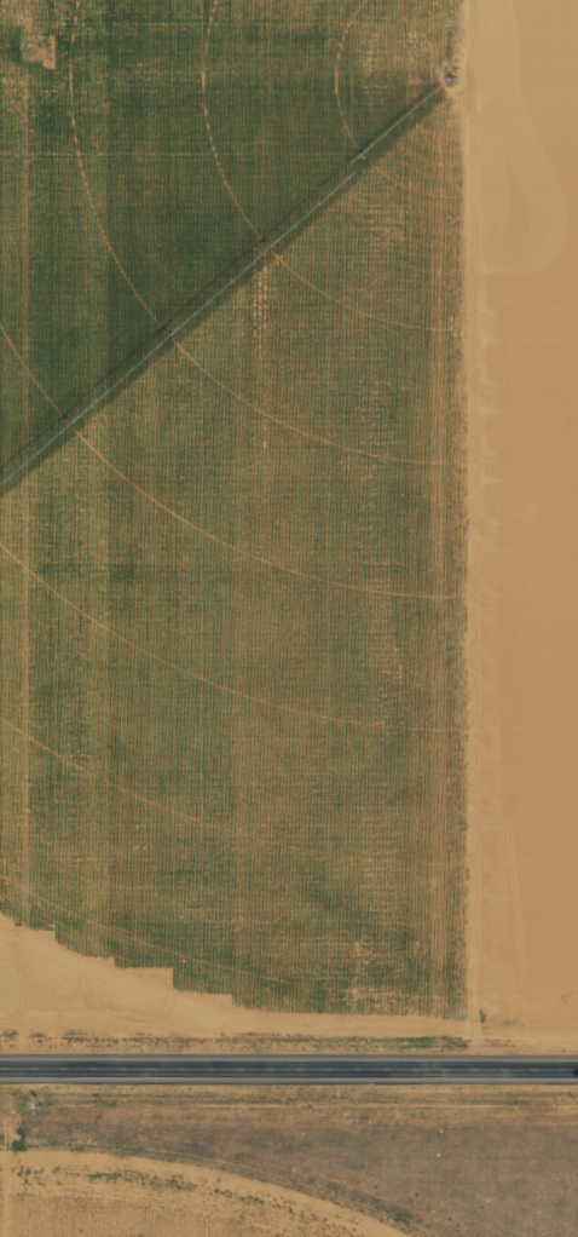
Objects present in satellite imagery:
road: (289, 1070)

